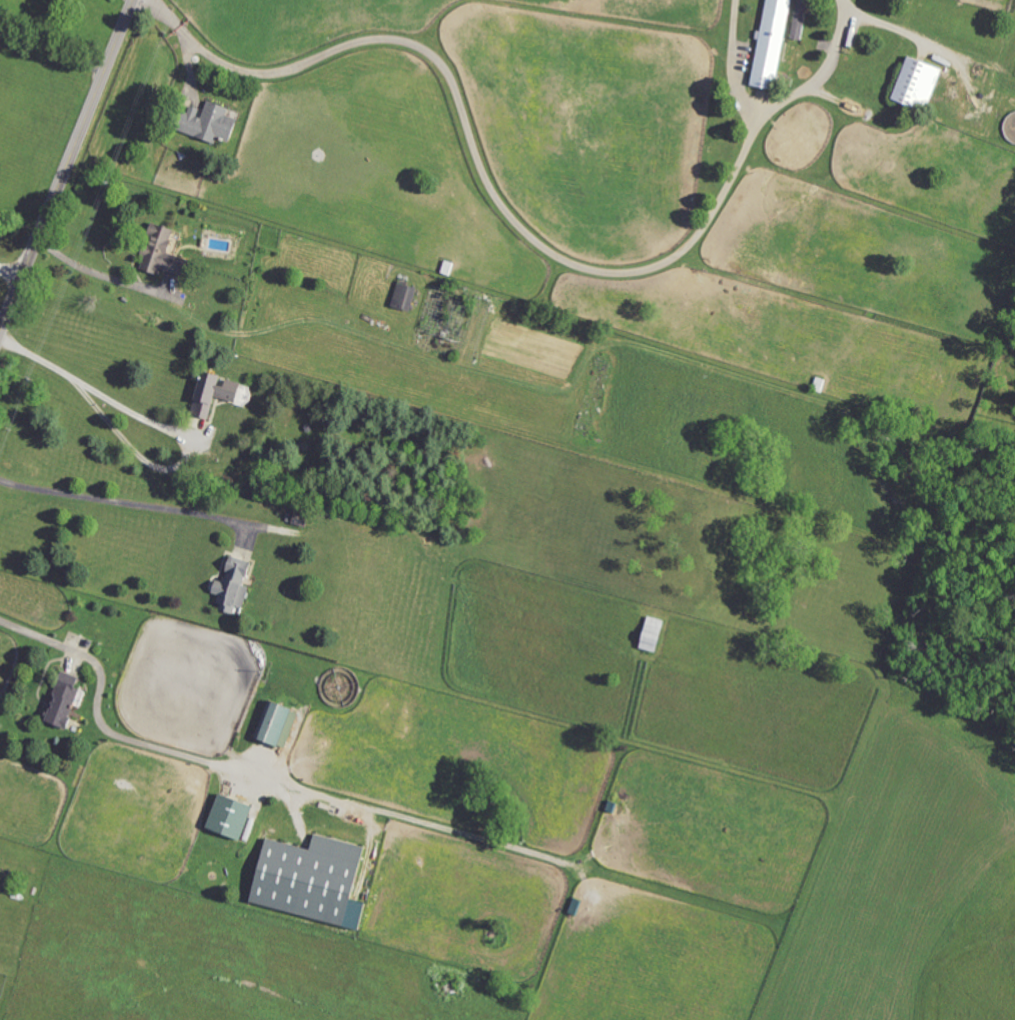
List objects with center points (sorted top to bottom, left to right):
building: (801, 22)
road: (55, 45)
building: (772, 45)
road: (733, 62)
road: (817, 75)
building: (920, 83)
building: (213, 123)
road: (473, 147)
road: (68, 165)
building: (164, 251)
road: (10, 274)
road: (98, 275)
building: (406, 295)
road: (38, 358)
building: (217, 391)
road: (181, 463)
road: (125, 503)
building: (236, 584)
building: (655, 634)
building: (66, 699)
building: (278, 723)
road: (257, 774)
building: (233, 816)
building: (315, 880)

